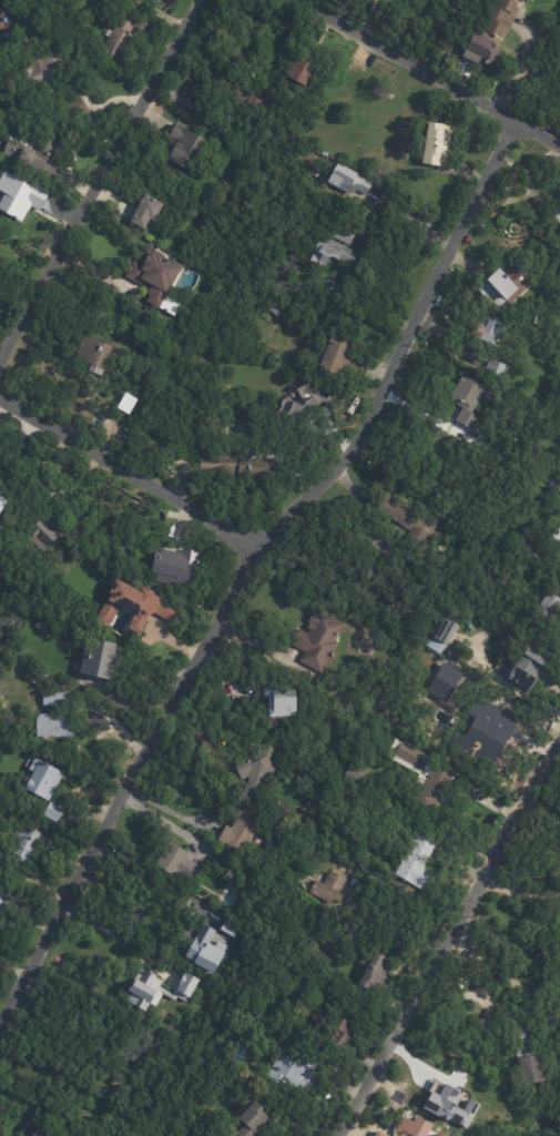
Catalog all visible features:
building: (492, 33)
building: (118, 37)
building: (43, 71)
building: (301, 71)
road: (518, 72)
road: (426, 77)
building: (247, 100)
building: (75, 108)
building: (435, 144)
building: (37, 150)
building: (184, 150)
building: (347, 180)
road: (103, 182)
building: (12, 196)
building: (144, 212)
building: (557, 215)
road: (420, 220)
building: (344, 234)
building: (330, 253)
building: (153, 273)
building: (512, 282)
building: (275, 310)
building: (483, 332)
building: (91, 355)
building: (336, 364)
building: (496, 371)
building: (466, 402)
building: (312, 405)
building: (516, 436)
building: (142, 437)
building: (238, 465)
road: (136, 473)
building: (432, 477)
building: (0, 503)
building: (406, 519)
road: (291, 525)
building: (47, 531)
building: (552, 538)
building: (527, 548)
building: (173, 569)
building: (418, 591)
building: (134, 607)
building: (547, 608)
building: (40, 627)
building: (426, 636)
building: (439, 636)
building: (317, 641)
building: (96, 660)
building: (426, 663)
building: (528, 668)
road: (508, 682)
building: (55, 701)
building: (274, 701)
building: (52, 727)
building: (488, 737)
building: (408, 758)
building: (258, 771)
building: (355, 773)
building: (40, 781)
building: (431, 787)
road: (174, 811)
building: (52, 813)
road: (172, 824)
building: (240, 832)
building: (21, 852)
building: (365, 852)
building: (174, 863)
building: (415, 863)
building: (327, 891)
building: (0, 902)
road: (395, 924)
building: (228, 930)
road: (113, 934)
road: (447, 936)
building: (203, 953)
road: (16, 971)
building: (373, 977)
road: (31, 980)
building: (156, 991)
building: (550, 1014)
building: (316, 1018)
building: (482, 1024)
building: (338, 1036)
building: (523, 1041)
building: (530, 1068)
building: (293, 1075)
building: (109, 1081)
building: (543, 1087)
building: (448, 1105)
building: (252, 1124)
building: (33, 1135)
building: (60, 1135)

